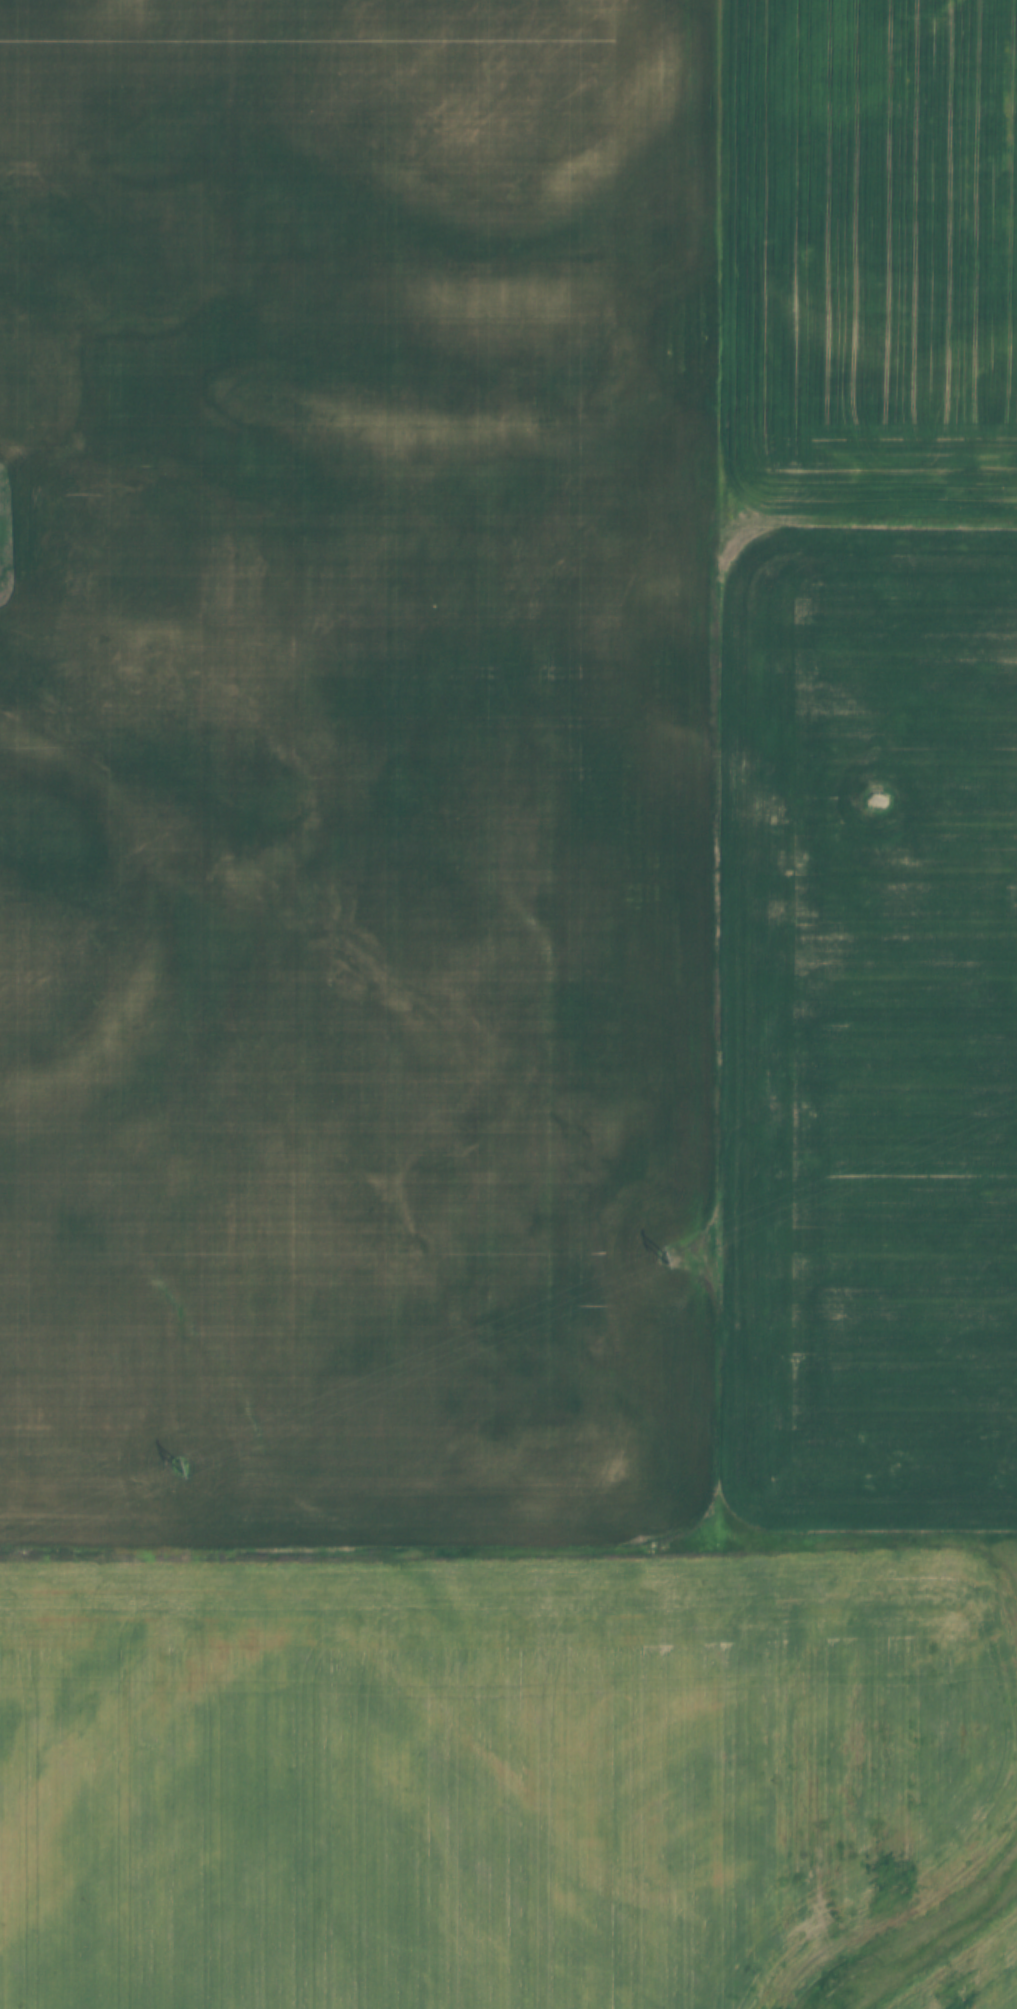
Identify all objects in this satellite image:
power tower: (665, 1257)
power tower: (180, 1466)

